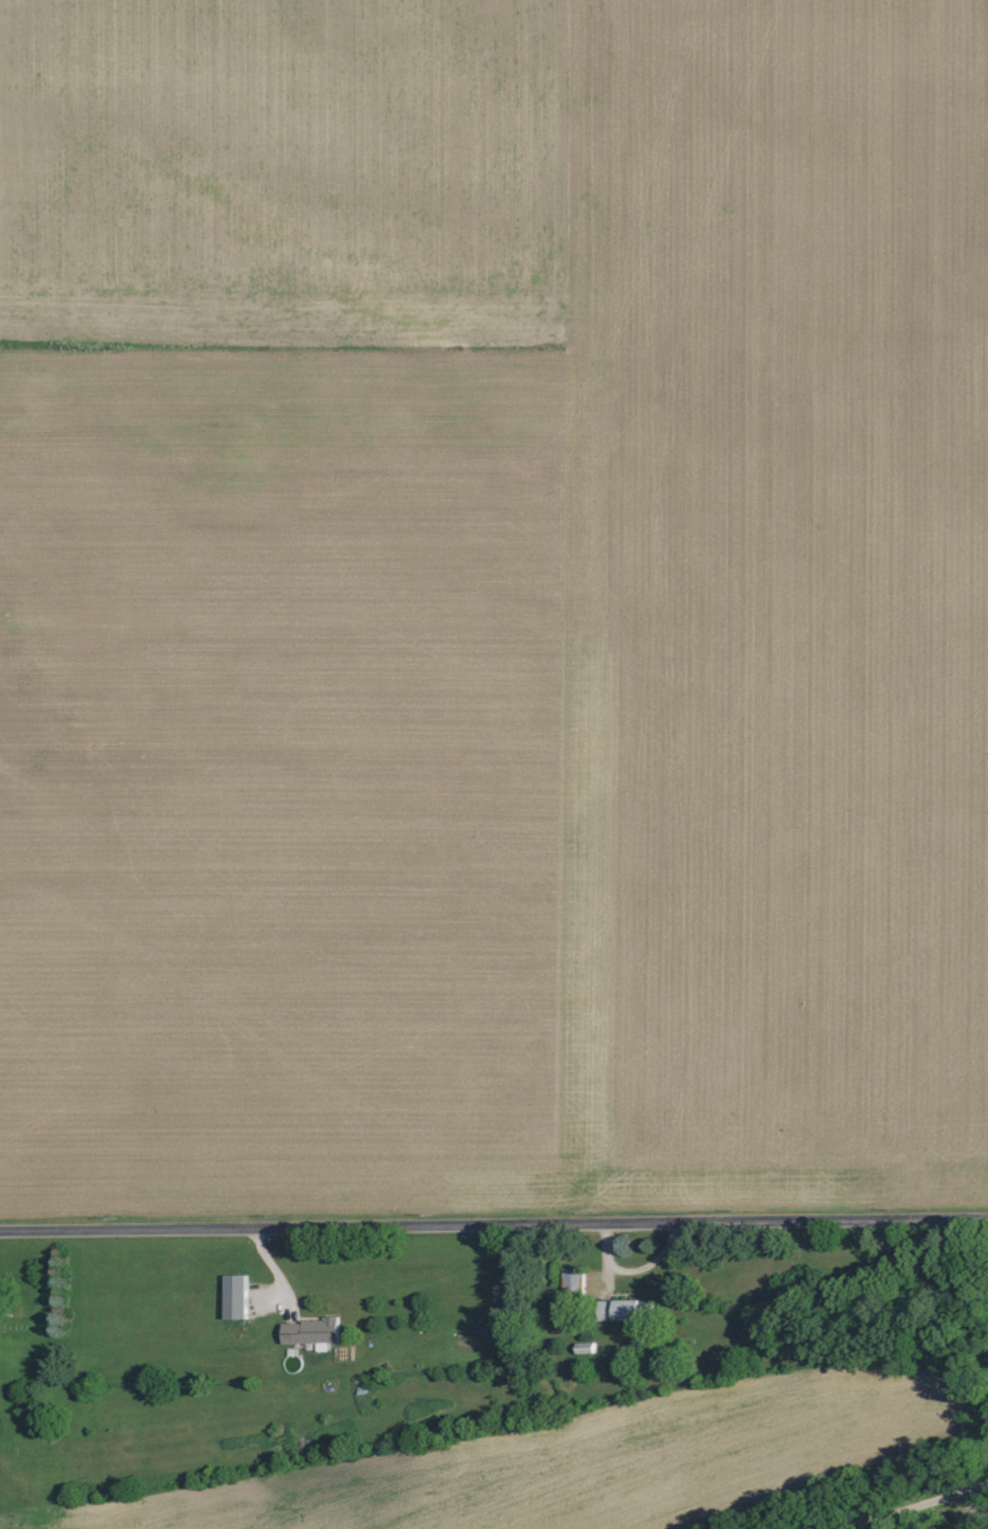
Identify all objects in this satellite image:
road: (494, 1221)
building: (573, 1281)
building: (236, 1297)
building: (630, 1310)
building: (313, 1332)
building: (587, 1348)
road: (921, 1504)
road: (970, 1507)

